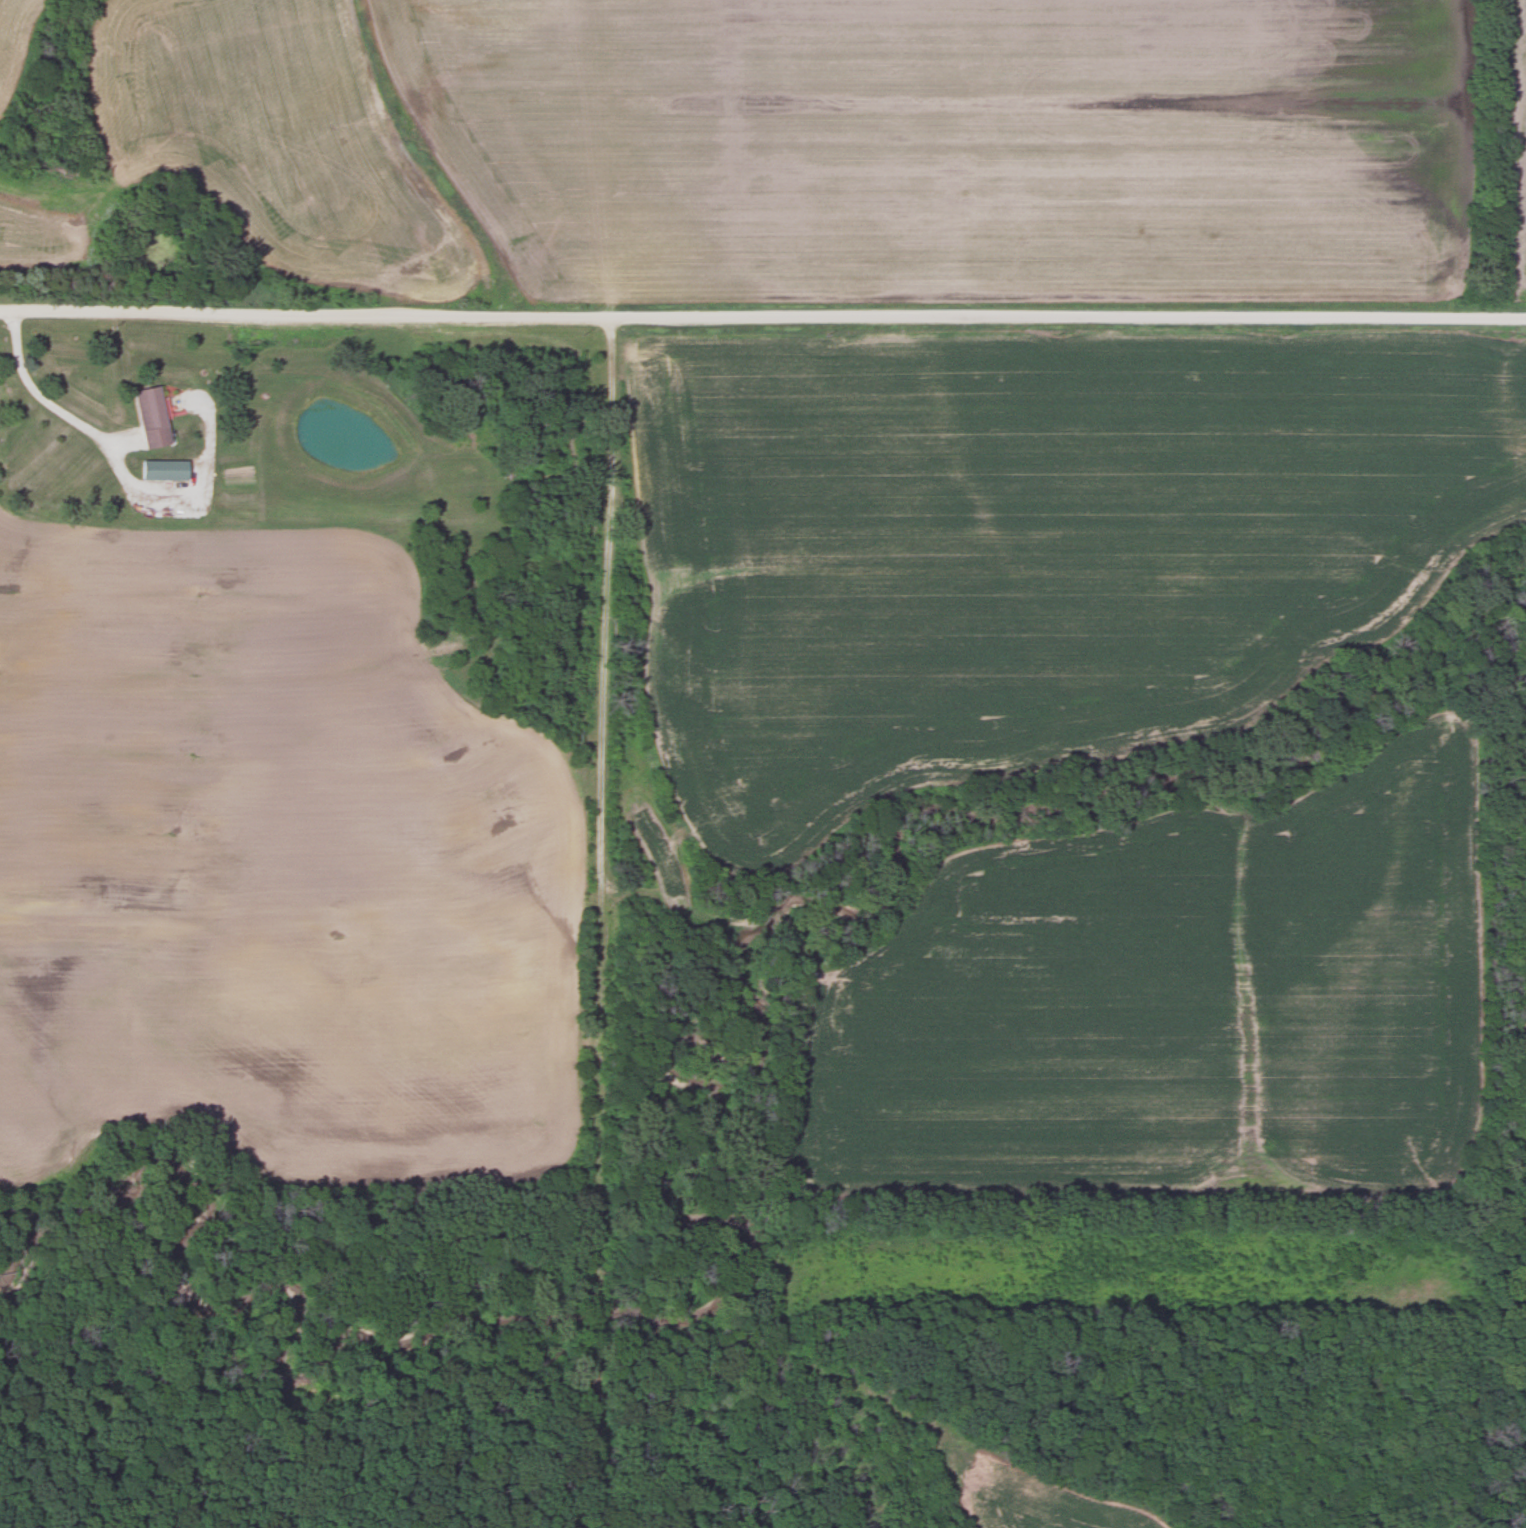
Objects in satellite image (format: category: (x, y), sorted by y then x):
road: (762, 313)
building: (153, 417)
building: (166, 469)
road: (603, 921)

